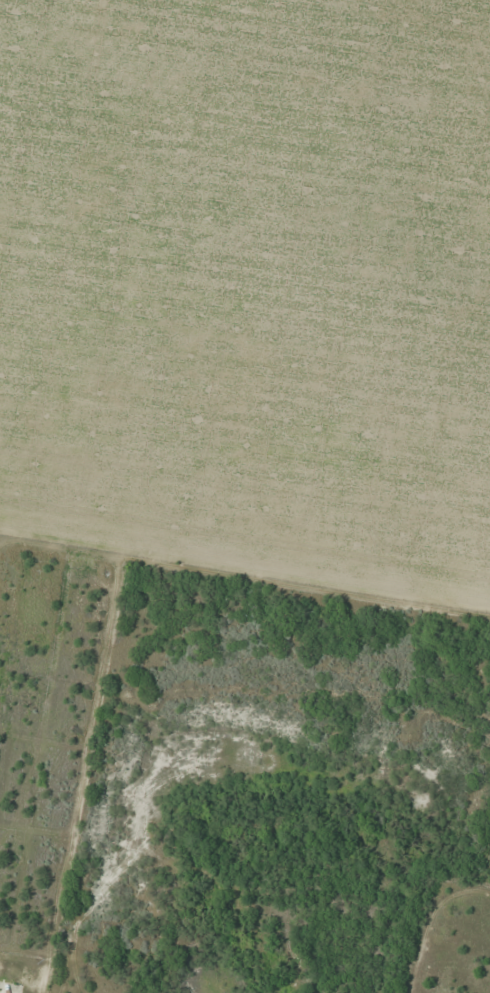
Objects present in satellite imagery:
building: (10, 988)

